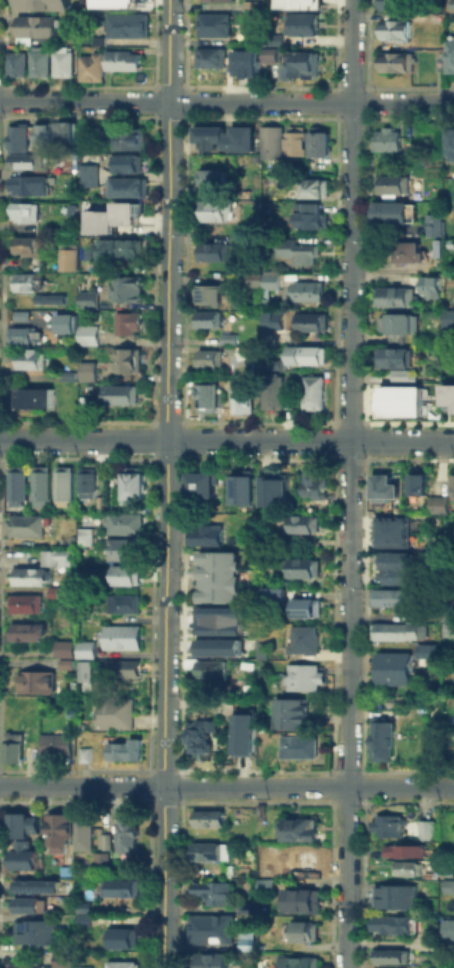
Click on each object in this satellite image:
building: (215, 0)
building: (294, 0)
building: (113, 3)
building: (451, 3)
building: (42, 4)
building: (397, 4)
building: (250, 5)
building: (125, 24)
building: (214, 24)
building: (298, 24)
building: (34, 25)
building: (394, 29)
building: (273, 39)
building: (250, 41)
building: (269, 55)
building: (448, 55)
building: (210, 56)
building: (38, 60)
building: (62, 61)
building: (395, 62)
building: (15, 63)
building: (105, 63)
building: (245, 63)
building: (301, 64)
road: (226, 102)
building: (67, 131)
building: (44, 134)
building: (220, 135)
building: (85, 138)
building: (124, 138)
building: (386, 139)
building: (296, 141)
building: (448, 141)
building: (272, 142)
building: (320, 142)
building: (20, 147)
building: (120, 161)
building: (87, 171)
building: (211, 175)
building: (317, 182)
building: (126, 183)
building: (27, 184)
building: (393, 184)
building: (24, 211)
building: (213, 211)
building: (393, 211)
building: (307, 214)
building: (111, 216)
building: (433, 224)
building: (453, 232)
building: (448, 242)
building: (25, 245)
building: (120, 247)
building: (435, 247)
building: (293, 249)
building: (211, 250)
building: (408, 251)
building: (67, 255)
building: (449, 279)
building: (25, 280)
building: (269, 281)
building: (427, 286)
building: (125, 287)
building: (304, 291)
building: (206, 294)
building: (263, 294)
building: (391, 296)
building: (48, 298)
building: (88, 298)
building: (263, 303)
building: (21, 314)
building: (207, 318)
building: (447, 318)
building: (270, 319)
building: (308, 321)
building: (64, 322)
building: (127, 322)
building: (397, 323)
building: (434, 330)
building: (87, 333)
building: (22, 335)
building: (270, 336)
building: (226, 338)
building: (310, 354)
building: (391, 355)
building: (125, 357)
building: (209, 357)
building: (30, 359)
building: (274, 364)
building: (86, 370)
building: (400, 374)
building: (66, 375)
building: (272, 390)
building: (313, 392)
building: (118, 393)
building: (242, 396)
building: (33, 397)
building: (206, 397)
building: (448, 398)
building: (398, 401)
road: (226, 440)
building: (132, 482)
building: (200, 482)
building: (314, 482)
building: (85, 483)
road: (164, 483)
building: (63, 484)
road: (349, 484)
building: (414, 484)
building: (452, 484)
building: (17, 485)
building: (40, 485)
building: (273, 485)
building: (241, 488)
building: (380, 488)
building: (439, 504)
building: (392, 520)
building: (123, 522)
building: (301, 523)
building: (25, 524)
building: (83, 534)
building: (204, 535)
building: (392, 536)
building: (285, 541)
building: (123, 548)
building: (55, 556)
building: (395, 566)
building: (300, 567)
building: (123, 574)
building: (28, 575)
building: (217, 576)
building: (54, 591)
building: (267, 592)
building: (389, 596)
building: (24, 603)
building: (122, 603)
building: (302, 606)
building: (220, 619)
building: (447, 629)
building: (28, 630)
building: (395, 630)
building: (121, 635)
building: (302, 637)
building: (63, 643)
building: (84, 644)
building: (217, 646)
building: (425, 646)
building: (64, 664)
building: (209, 667)
building: (391, 667)
building: (121, 668)
building: (82, 670)
building: (301, 673)
building: (34, 681)
building: (113, 712)
building: (289, 713)
building: (242, 731)
building: (197, 736)
building: (380, 743)
building: (55, 745)
building: (298, 745)
building: (13, 746)
building: (125, 748)
building: (83, 754)
road: (226, 786)
building: (206, 817)
building: (20, 824)
building: (387, 824)
building: (298, 828)
building: (423, 828)
building: (56, 831)
building: (126, 832)
building: (81, 834)
building: (104, 841)
building: (404, 850)
building: (209, 851)
building: (22, 856)
building: (301, 858)
building: (99, 859)
building: (226, 865)
building: (407, 868)
building: (262, 872)
building: (39, 884)
building: (114, 884)
building: (263, 884)
building: (448, 886)
building: (208, 889)
building: (393, 895)
building: (301, 900)
building: (28, 905)
building: (245, 905)
building: (81, 914)
building: (386, 924)
building: (209, 928)
building: (447, 928)
building: (34, 931)
building: (302, 931)
building: (427, 934)
building: (119, 938)
building: (244, 943)
building: (386, 957)
building: (61, 959)
building: (211, 961)
building: (444, 961)
building: (297, 962)
building: (120, 965)
building: (23, 966)
building: (81, 966)
building: (388, 967)

